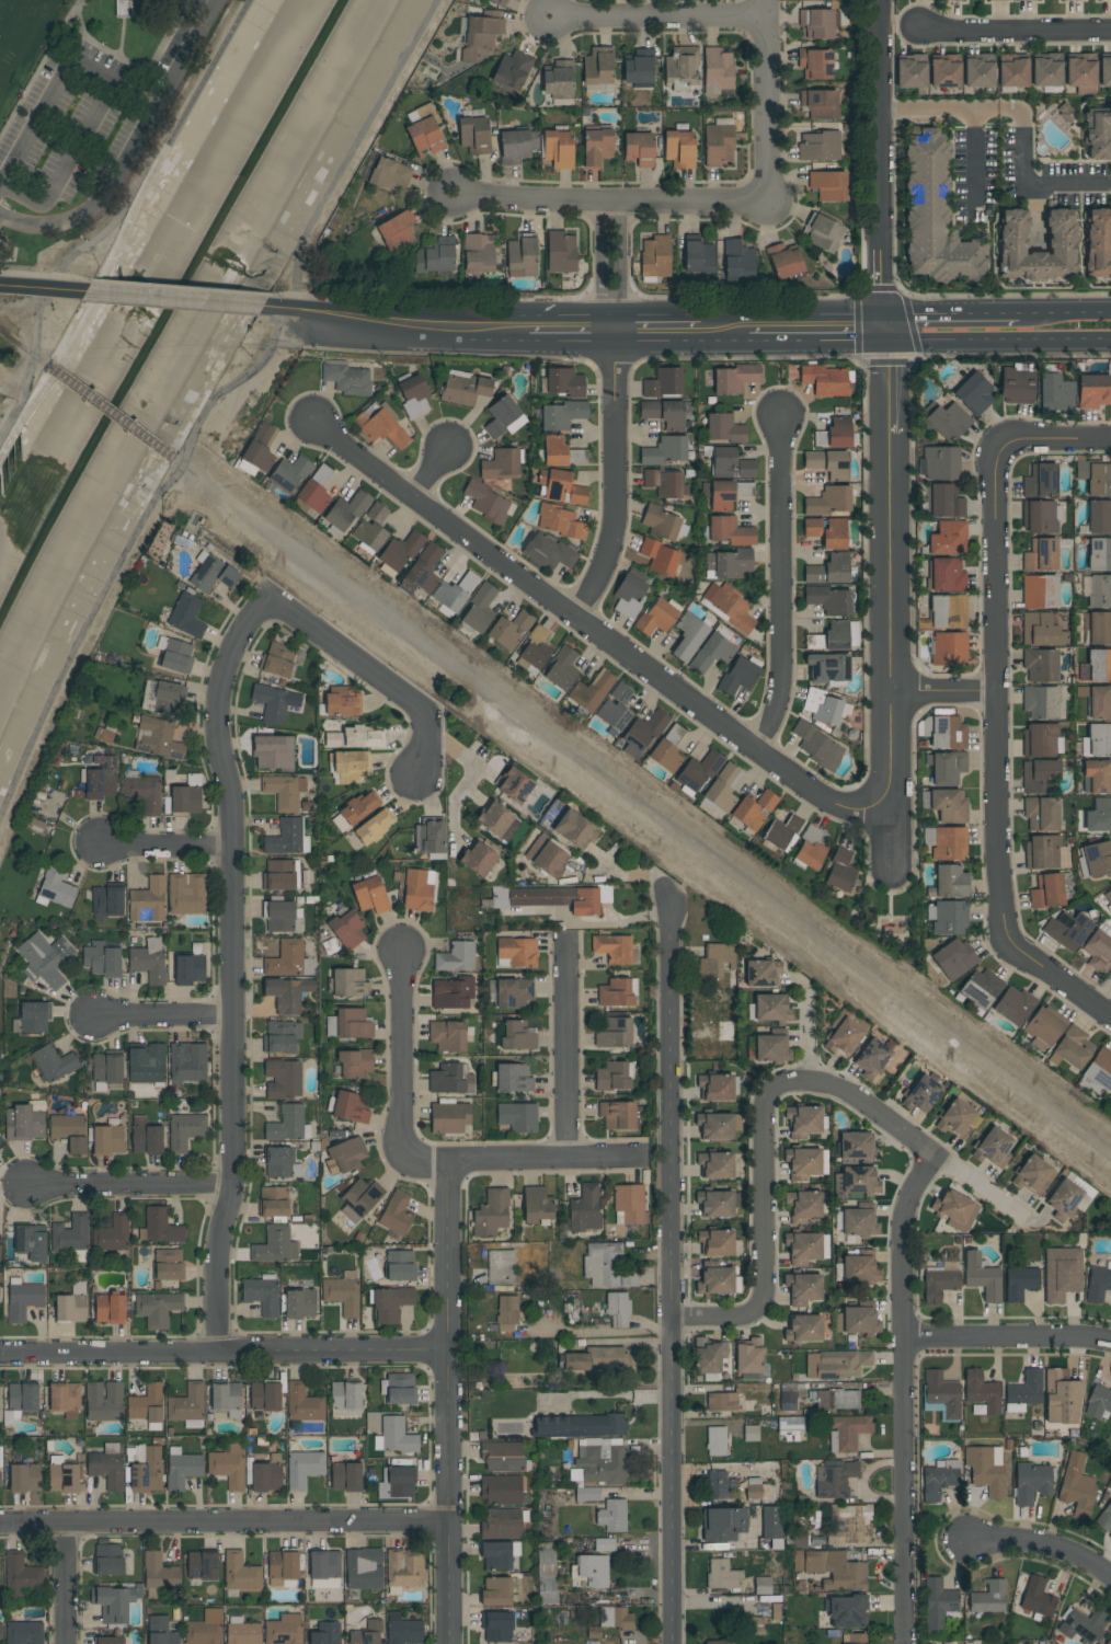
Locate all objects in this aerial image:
building: (942, 0)
building: (998, 0)
building: (1028, 0)
building: (1067, 0)
building: (1102, 0)
building: (500, 2)
building: (123, 8)
road: (75, 15)
road: (656, 18)
building: (820, 23)
road: (1017, 30)
building: (483, 31)
parking lot: (176, 36)
road: (119, 37)
road: (77, 46)
building: (816, 64)
road: (146, 66)
building: (599, 66)
building: (640, 68)
building: (682, 68)
building: (513, 70)
building: (718, 70)
building: (1046, 70)
building: (1104, 70)
building: (944, 71)
building: (1012, 71)
building: (912, 72)
building: (978, 73)
building: (1080, 73)
road: (35, 76)
building: (559, 79)
road: (61, 83)
road: (766, 102)
building: (820, 103)
park: (84, 105)
building: (1065, 112)
road: (1023, 123)
parking lot: (65, 126)
building: (426, 130)
building: (1098, 134)
building: (474, 135)
building: (721, 141)
building: (518, 145)
building: (597, 146)
building: (679, 146)
building: (821, 146)
building: (559, 148)
road: (134, 149)
building: (640, 149)
road: (971, 161)
road: (883, 163)
road: (67, 165)
building: (389, 174)
building: (829, 184)
road: (608, 200)
building: (935, 216)
road: (117, 217)
road: (1, 221)
building: (397, 229)
road: (124, 230)
building: (1011, 231)
building: (824, 232)
building: (1098, 243)
road: (14, 253)
building: (698, 254)
building: (523, 255)
building: (562, 255)
building: (477, 256)
building: (656, 256)
building: (436, 257)
building: (738, 262)
building: (786, 263)
road: (609, 266)
road: (42, 289)
road: (172, 301)
road: (276, 309)
road: (951, 312)
road: (1065, 312)
road: (379, 320)
traffic signals: (886, 327)
road: (817, 329)
road: (724, 330)
road: (655, 331)
road: (499, 332)
road: (570, 332)
road: (996, 343)
railway: (39, 361)
road: (31, 367)
building: (735, 378)
building: (346, 379)
building: (825, 380)
building: (564, 382)
building: (663, 383)
building: (1016, 387)
building: (465, 388)
building: (1093, 391)
building: (1055, 393)
building: (974, 394)
building: (413, 395)
railway: (107, 410)
building: (663, 413)
building: (562, 414)
building: (503, 417)
building: (948, 421)
building: (381, 428)
building: (723, 428)
building: (265, 432)
building: (835, 434)
road: (1042, 446)
building: (665, 451)
building: (561, 452)
building: (256, 457)
building: (730, 463)
building: (828, 463)
building: (939, 463)
building: (501, 464)
road: (431, 473)
building: (288, 474)
building: (1095, 479)
road: (610, 480)
building: (1040, 481)
building: (665, 483)
building: (561, 487)
building: (744, 488)
building: (314, 490)
building: (721, 495)
building: (828, 501)
building: (946, 502)
building: (489, 503)
building: (346, 510)
building: (1099, 516)
building: (1041, 517)
building: (559, 521)
building: (663, 524)
building: (812, 527)
building: (371, 528)
building: (729, 531)
building: (835, 534)
building: (948, 539)
road: (131, 547)
building: (400, 551)
building: (548, 552)
building: (1099, 554)
building: (1041, 555)
building: (660, 557)
building: (728, 564)
building: (828, 570)
building: (422, 571)
building: (211, 573)
building: (946, 575)
road: (780, 585)
building: (1040, 591)
building: (1099, 591)
building: (454, 594)
building: (629, 595)
building: (829, 600)
road: (893, 600)
building: (728, 606)
building: (479, 610)
building: (948, 611)
building: (186, 616)
building: (656, 617)
building: (1098, 628)
building: (509, 630)
building: (1042, 630)
road: (594, 635)
building: (688, 636)
building: (829, 636)
building: (949, 647)
building: (536, 648)
building: (711, 653)
building: (175, 658)
building: (277, 659)
building: (1040, 666)
building: (1096, 666)
building: (827, 667)
building: (561, 669)
road: (373, 676)
building: (737, 676)
building: (591, 691)
road: (943, 695)
building: (167, 698)
building: (1040, 701)
building: (1097, 701)
building: (275, 702)
building: (342, 703)
building: (616, 708)
building: (823, 708)
road: (993, 709)
building: (642, 731)
building: (942, 732)
building: (363, 736)
building: (158, 738)
building: (333, 739)
building: (1041, 739)
building: (1097, 740)
building: (817, 746)
building: (273, 752)
building: (665, 756)
building: (347, 767)
building: (946, 767)
building: (698, 771)
road: (465, 772)
building: (1098, 775)
building: (1039, 777)
building: (100, 778)
building: (514, 785)
building: (721, 789)
building: (284, 791)
building: (142, 793)
building: (185, 800)
building: (949, 804)
building: (355, 810)
building: (753, 810)
building: (1041, 814)
building: (1099, 816)
building: (497, 821)
building: (371, 828)
building: (574, 829)
building: (428, 837)
building: (287, 838)
building: (949, 843)
road: (164, 847)
building: (811, 848)
building: (1042, 851)
building: (548, 855)
building: (478, 859)
building: (1095, 860)
building: (839, 871)
building: (280, 875)
building: (949, 883)
building: (55, 888)
building: (419, 889)
building: (1046, 892)
building: (186, 894)
building: (369, 895)
building: (1108, 895)
building: (550, 898)
building: (106, 901)
building: (147, 901)
building: (278, 916)
building: (948, 918)
park: (897, 923)
building: (347, 930)
building: (1066, 930)
road: (907, 935)
building: (612, 949)
building: (517, 951)
building: (1098, 951)
building: (456, 957)
building: (953, 958)
building: (43, 959)
building: (101, 959)
building: (288, 959)
building: (715, 959)
building: (148, 961)
building: (190, 966)
road: (229, 968)
building: (760, 974)
building: (1109, 977)
road: (1057, 979)
building: (348, 982)
building: (287, 993)
building: (451, 993)
building: (513, 993)
building: (615, 993)
building: (1013, 1005)
building: (771, 1009)
building: (33, 1016)
road: (161, 1018)
building: (348, 1024)
building: (1042, 1028)
building: (614, 1033)
building: (447, 1035)
building: (843, 1035)
building: (280, 1036)
building: (517, 1036)
road: (804, 1038)
building: (1073, 1047)
building: (771, 1048)
road: (562, 1050)
building: (871, 1058)
building: (187, 1061)
building: (53, 1062)
building: (354, 1062)
building: (146, 1065)
building: (105, 1068)
building: (1099, 1069)
building: (611, 1077)
building: (513, 1078)
building: (282, 1079)
building: (449, 1080)
building: (715, 1088)
building: (921, 1094)
building: (1110, 1096)
building: (347, 1107)
building: (617, 1115)
building: (448, 1116)
building: (517, 1117)
building: (958, 1120)
building: (25, 1122)
building: (803, 1122)
building: (287, 1125)
building: (714, 1126)
building: (69, 1131)
building: (184, 1131)
building: (145, 1137)
building: (0, 1139)
building: (107, 1140)
road: (913, 1141)
building: (857, 1147)
building: (993, 1148)
building: (344, 1156)
road: (546, 1157)
building: (279, 1163)
building: (802, 1163)
building: (714, 1164)
building: (1033, 1176)
building: (856, 1182)
road: (127, 1187)
road: (765, 1195)
building: (359, 1198)
building: (1063, 1199)
building: (273, 1202)
building: (629, 1203)
building: (714, 1204)
building: (536, 1205)
building: (802, 1206)
building: (585, 1209)
building: (954, 1210)
building: (396, 1212)
building: (490, 1212)
building: (859, 1222)
building: (161, 1227)
building: (111, 1234)
building: (71, 1238)
building: (30, 1242)
building: (715, 1243)
building: (274, 1245)
building: (802, 1248)
building: (168, 1264)
building: (400, 1265)
building: (607, 1266)
building: (500, 1267)
building: (859, 1268)
road: (671, 1272)
building: (1061, 1273)
building: (982, 1277)
road: (443, 1278)
building: (714, 1281)
building: (1020, 1283)
building: (1098, 1283)
building: (938, 1285)
building: (803, 1288)
building: (342, 1292)
building: (261, 1295)
building: (23, 1300)
building: (299, 1303)
building: (390, 1303)
building: (71, 1304)
building: (110, 1308)
building: (157, 1308)
building: (617, 1309)
building: (506, 1313)
road: (701, 1319)
building: (856, 1321)
building: (803, 1329)
road: (1009, 1336)
road: (221, 1352)
building: (708, 1356)
building: (748, 1356)
building: (607, 1357)
building: (573, 1361)
building: (836, 1365)
building: (400, 1388)
building: (982, 1391)
building: (1023, 1391)
building: (940, 1394)
building: (264, 1395)
building: (345, 1395)
road: (906, 1395)
building: (1061, 1398)
building: (65, 1399)
building: (837, 1399)
building: (21, 1400)
building: (103, 1401)
building: (226, 1401)
building: (721, 1401)
building: (1098, 1402)
building: (302, 1403)
building: (147, 1404)
building: (186, 1404)
building: (790, 1423)
building: (579, 1425)
building: (847, 1433)
building: (751, 1434)
building: (396, 1436)
building: (715, 1441)
building: (502, 1456)
building: (1, 1457)
building: (600, 1460)
building: (106, 1465)
building: (228, 1467)
building: (181, 1469)
building: (302, 1469)
building: (986, 1469)
building: (147, 1472)
building: (267, 1474)
building: (345, 1476)
building: (24, 1478)
building: (0, 1479)
building: (834, 1479)
building: (939, 1479)
building: (1031, 1482)
building: (396, 1483)
building: (1076, 1485)
building: (501, 1490)
building: (758, 1492)
building: (586, 1494)
building: (611, 1516)
building: (1104, 1518)
road: (222, 1522)
building: (770, 1522)
building: (501, 1524)
building: (722, 1524)
building: (849, 1524)
building: (604, 1544)
road: (1040, 1545)
building: (497, 1555)
building: (107, 1560)
building: (202, 1565)
building: (282, 1567)
building: (324, 1568)
building: (364, 1568)
building: (404, 1568)
building: (832, 1568)
building: (591, 1571)
building: (159, 1572)
building: (240, 1573)
building: (721, 1574)
building: (546, 1576)
building: (22, 1577)
road: (70, 1584)
building: (761, 1585)
building: (495, 1591)
building: (1036, 1597)
building: (988, 1598)
building: (113, 1602)
building: (938, 1603)
building: (846, 1611)
building: (615, 1618)
building: (1081, 1625)
building: (496, 1626)
building: (204, 1629)
building: (284, 1630)
building: (402, 1630)
building: (160, 1631)
building: (241, 1631)
building: (0, 1632)
building: (24, 1633)
building: (325, 1633)
building: (366, 1633)
building: (856, 1639)
building: (107, 1640)
building: (1109, 1641)
building: (721, 1642)

